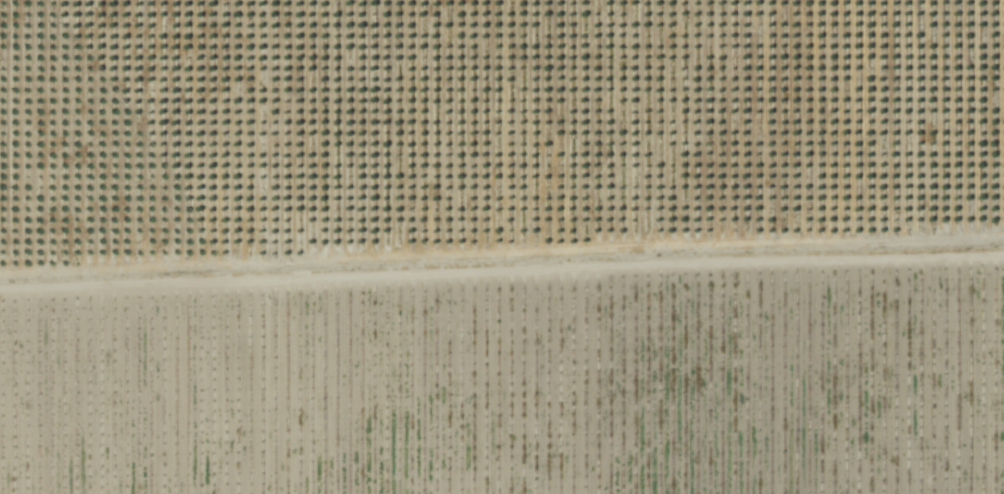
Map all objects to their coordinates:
crop: (502, 247)

